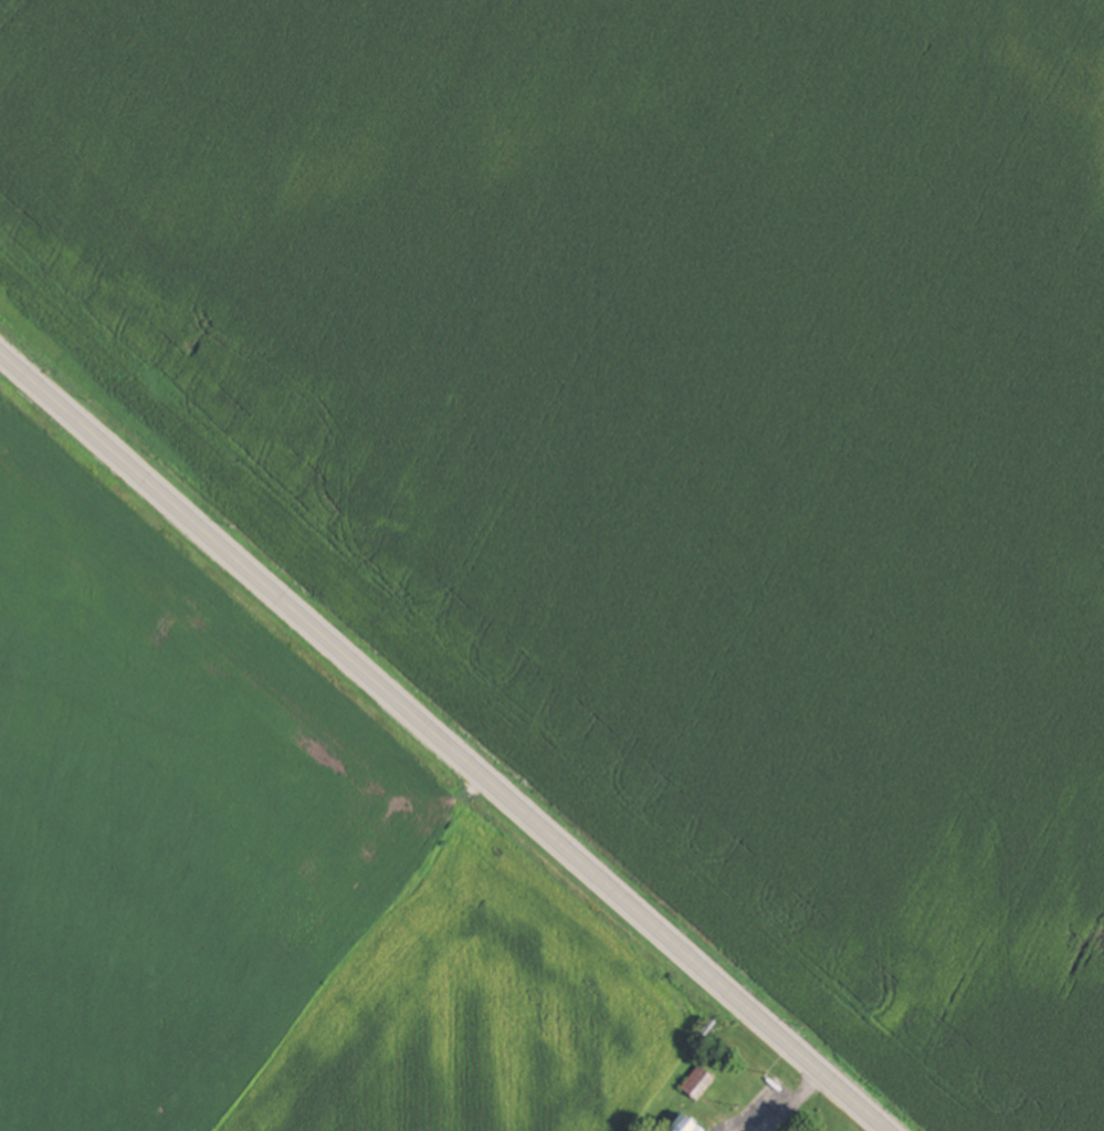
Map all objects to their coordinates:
road: (432, 750)
building: (686, 1123)

